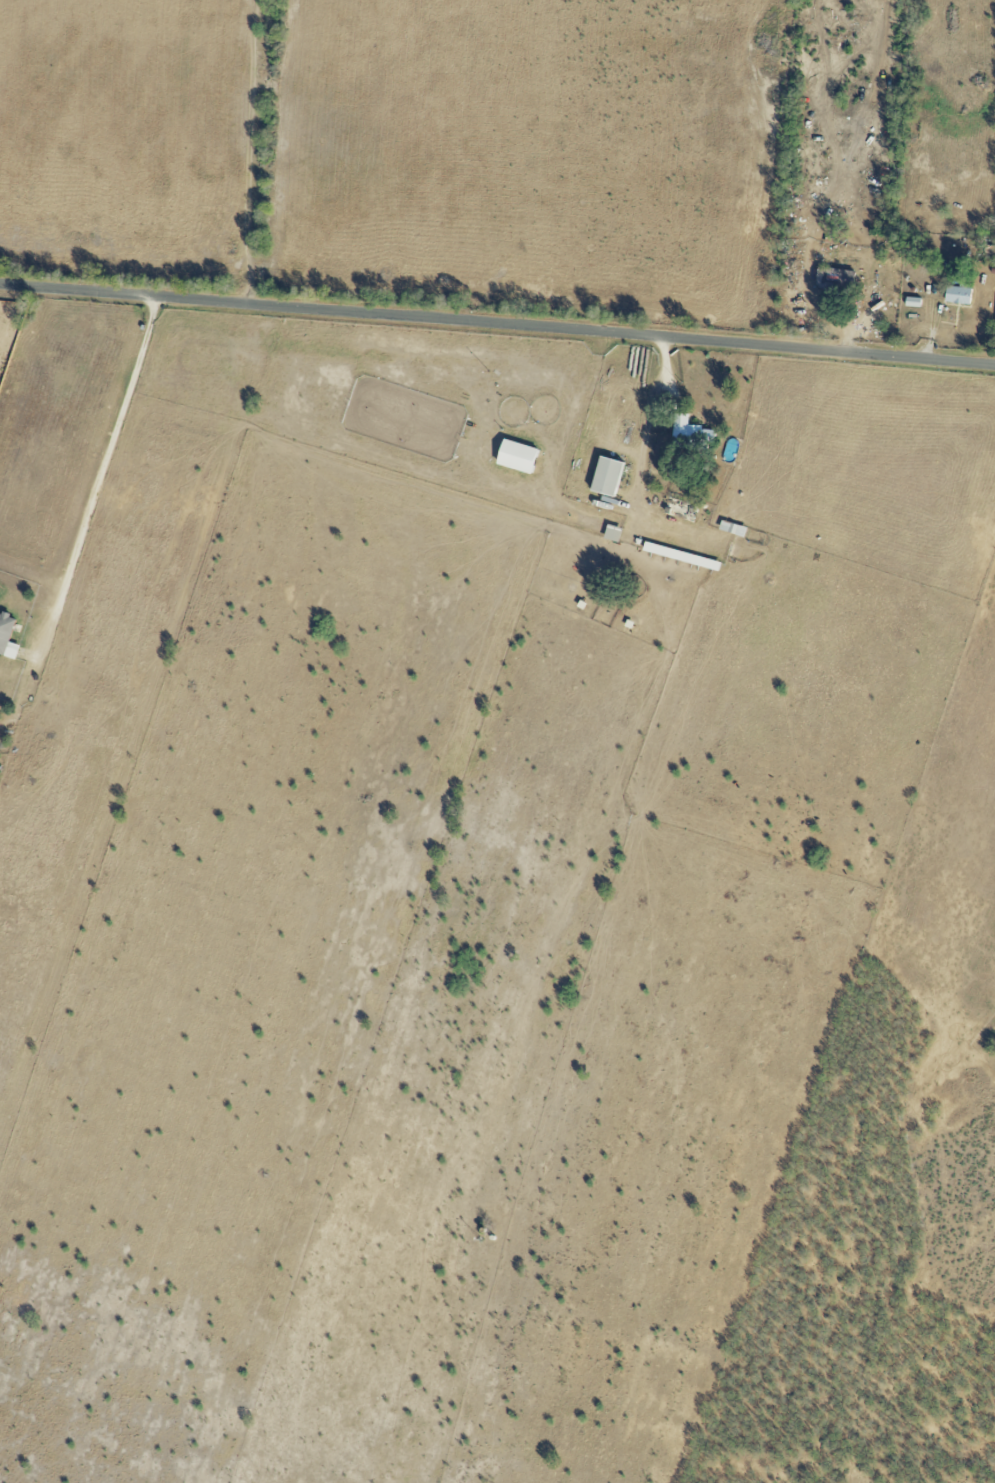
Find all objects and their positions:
road: (253, 152)
building: (835, 280)
building: (958, 295)
building: (913, 302)
road: (497, 324)
road: (662, 386)
road: (644, 447)
building: (518, 457)
road: (109, 458)
building: (608, 477)

